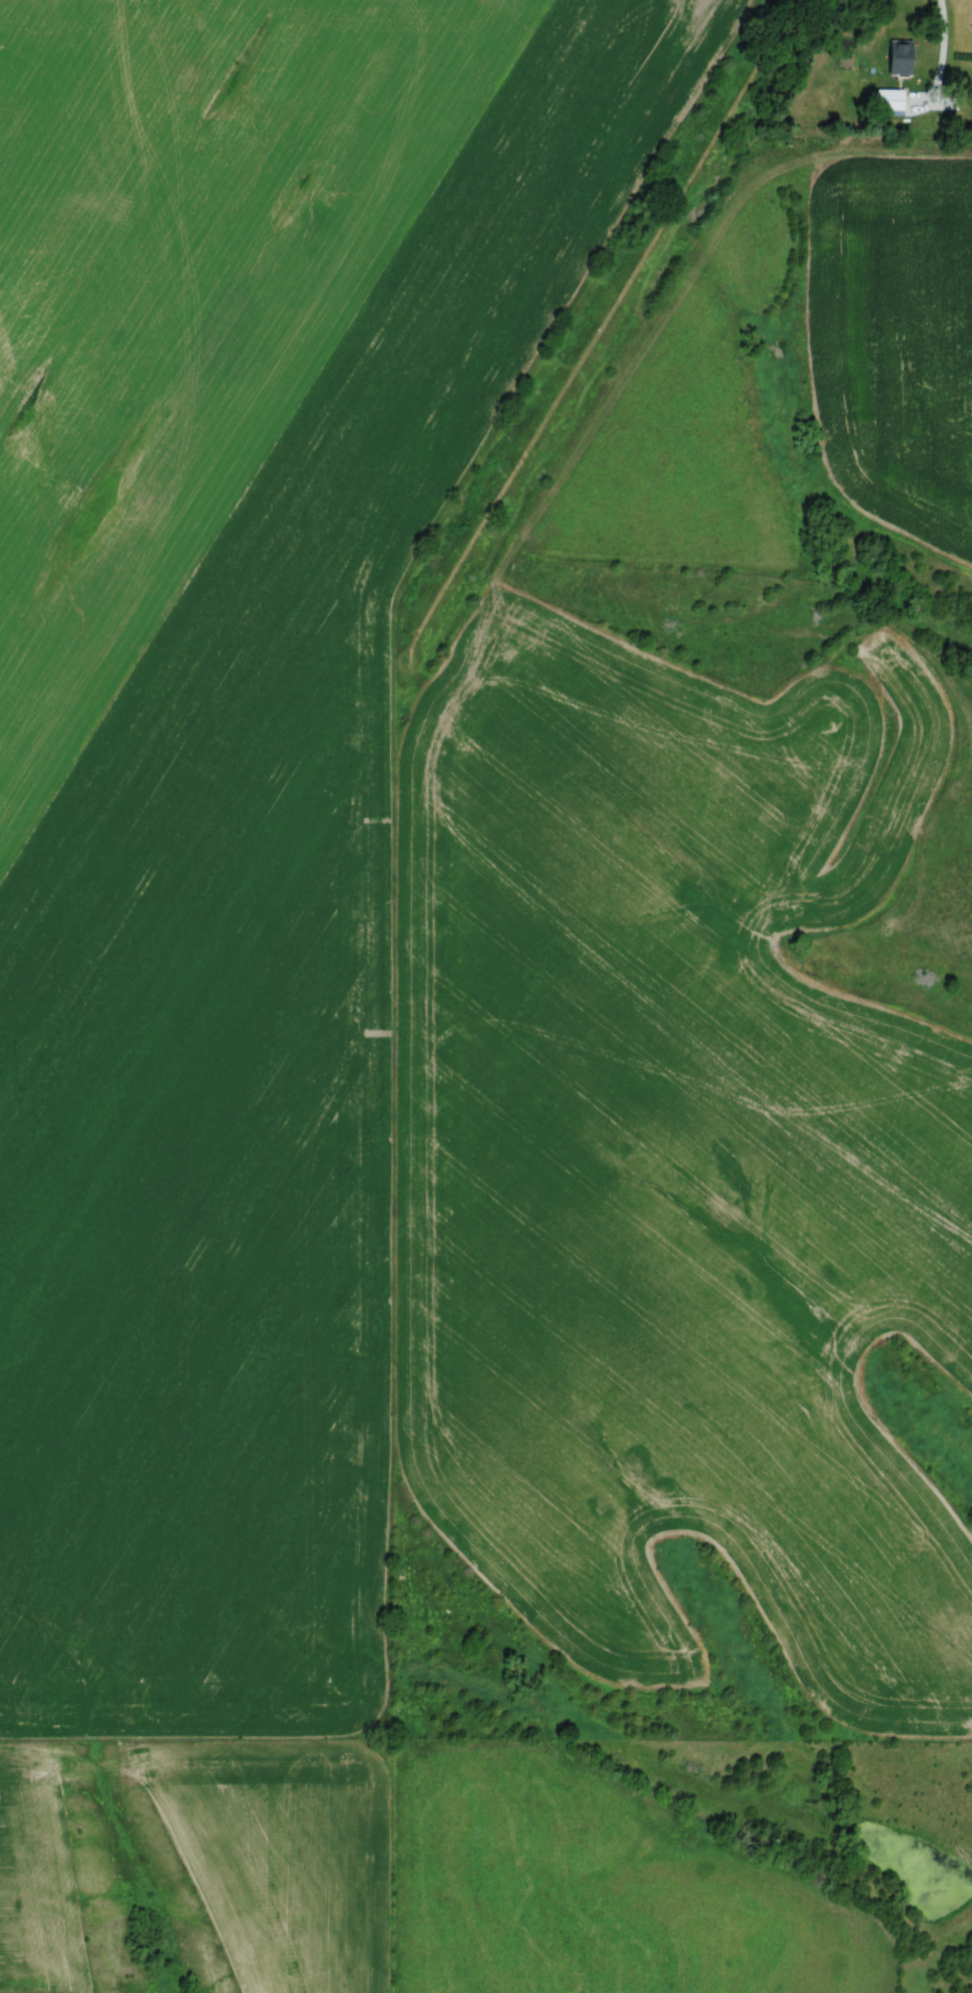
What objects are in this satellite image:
building: (899, 57)
building: (890, 99)

